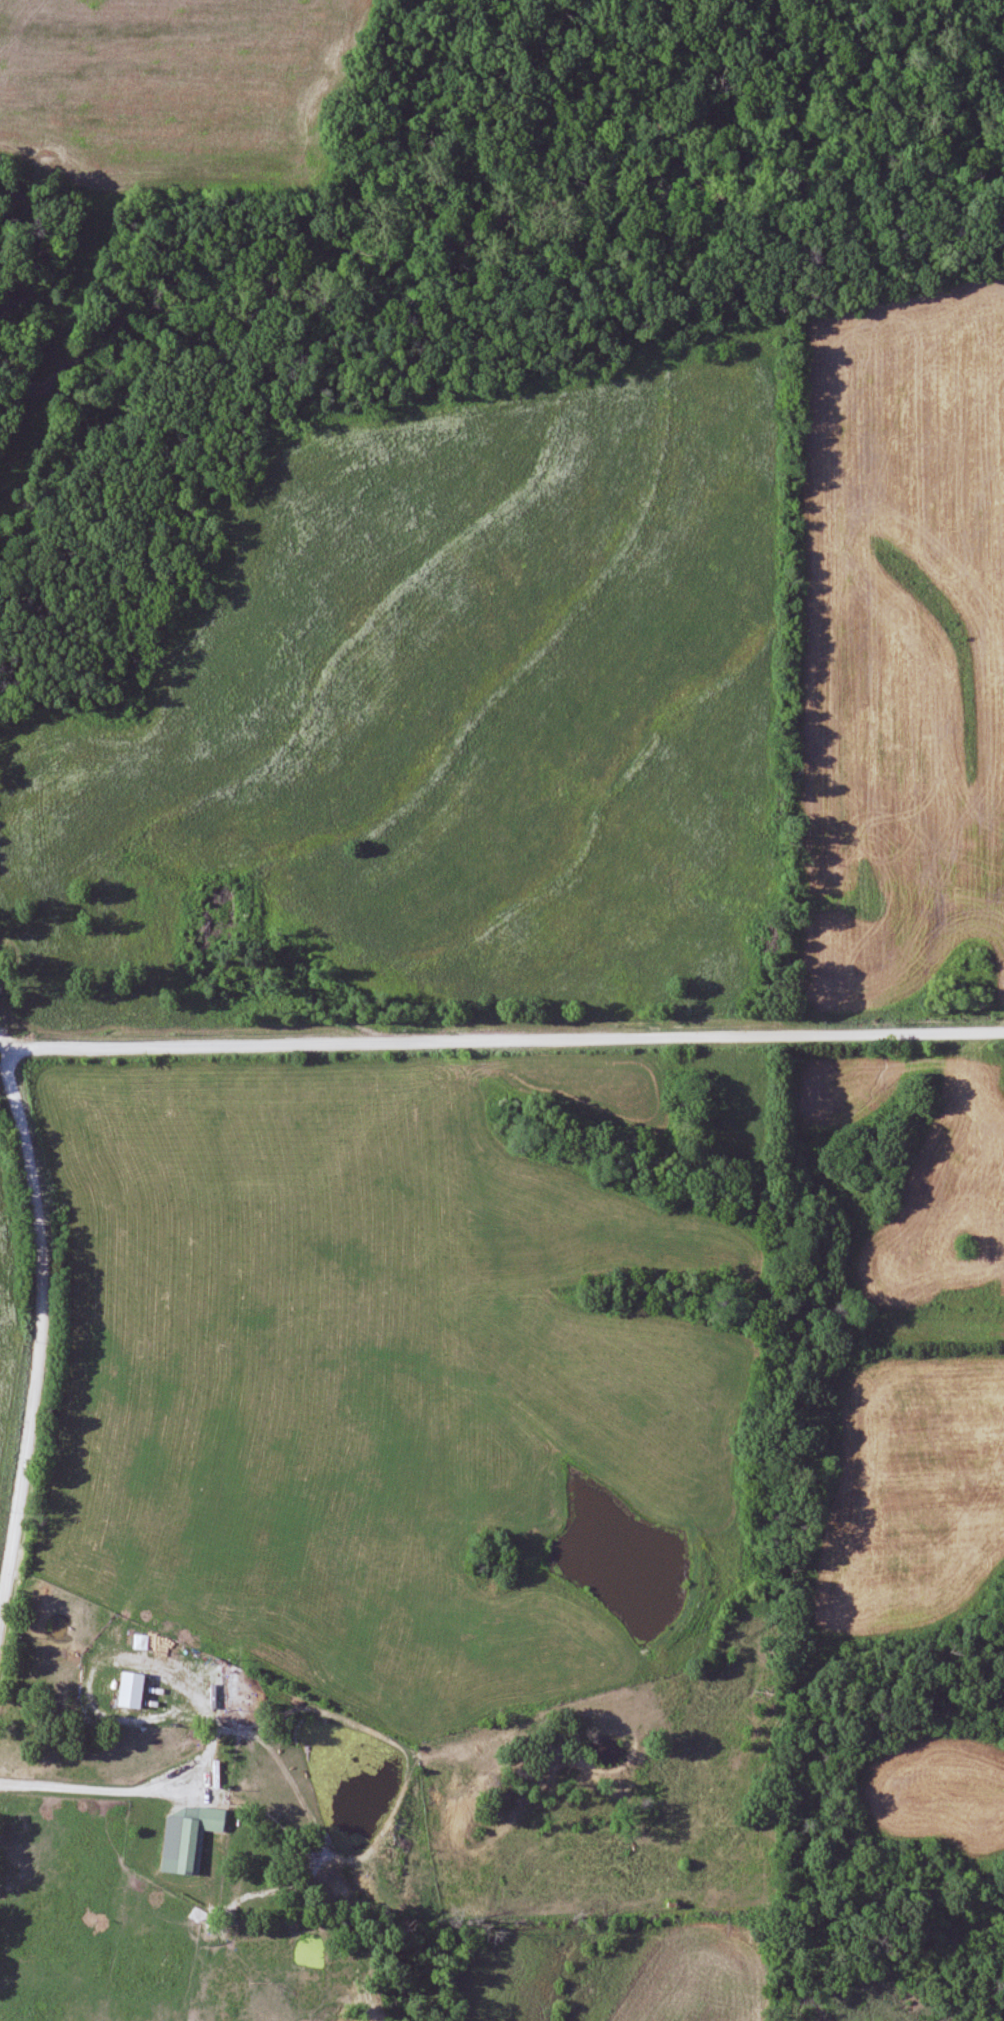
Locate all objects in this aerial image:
road: (502, 1040)
road: (38, 1330)
building: (142, 1642)
building: (131, 1691)
road: (101, 1789)
building: (188, 1838)

